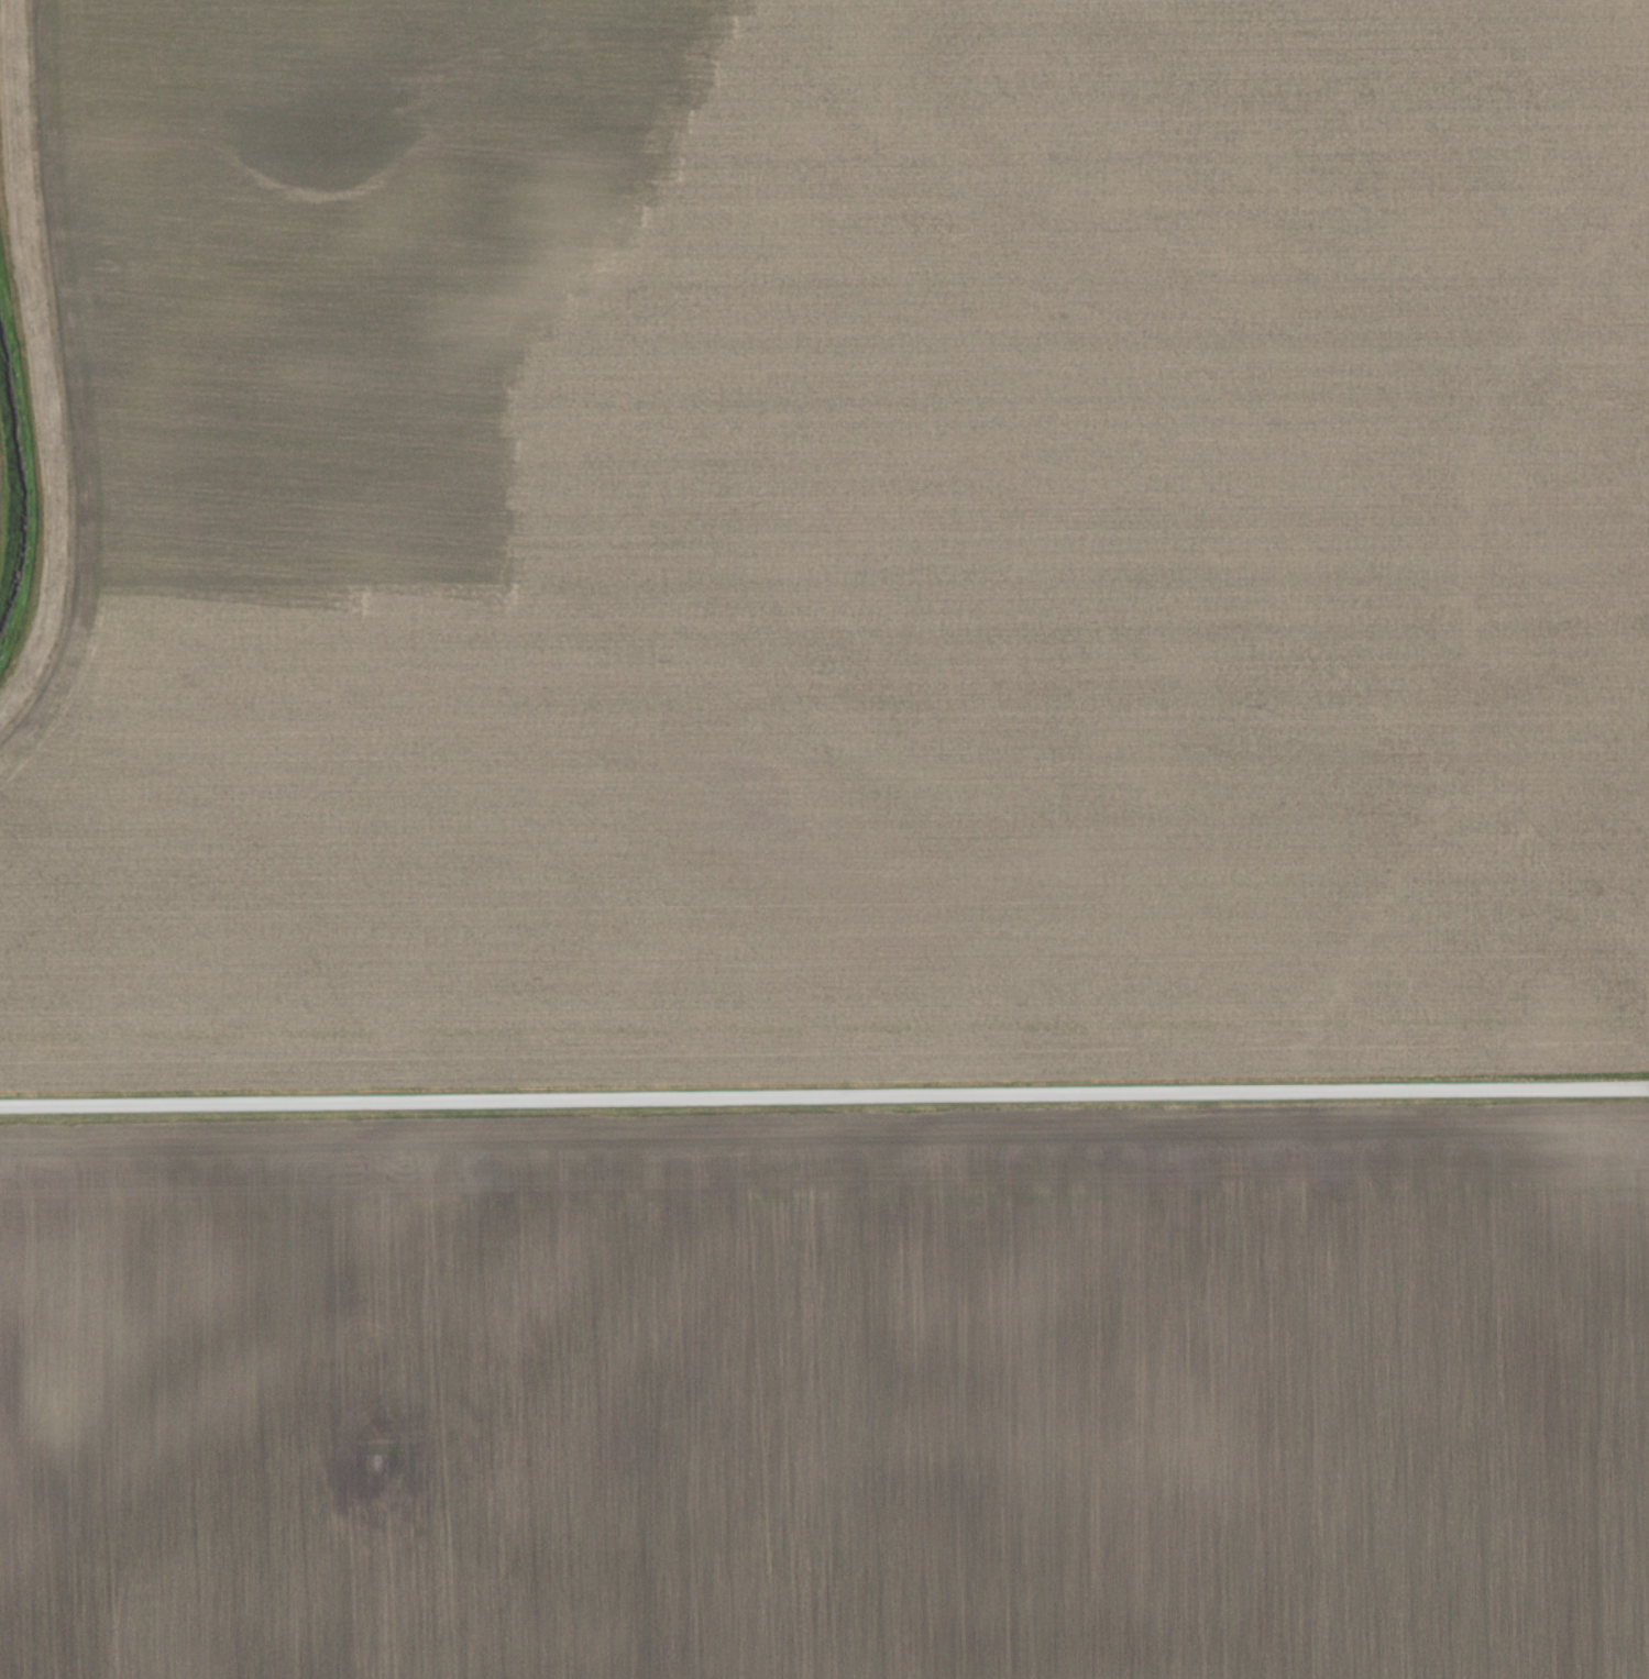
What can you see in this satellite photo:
road: (824, 1086)

